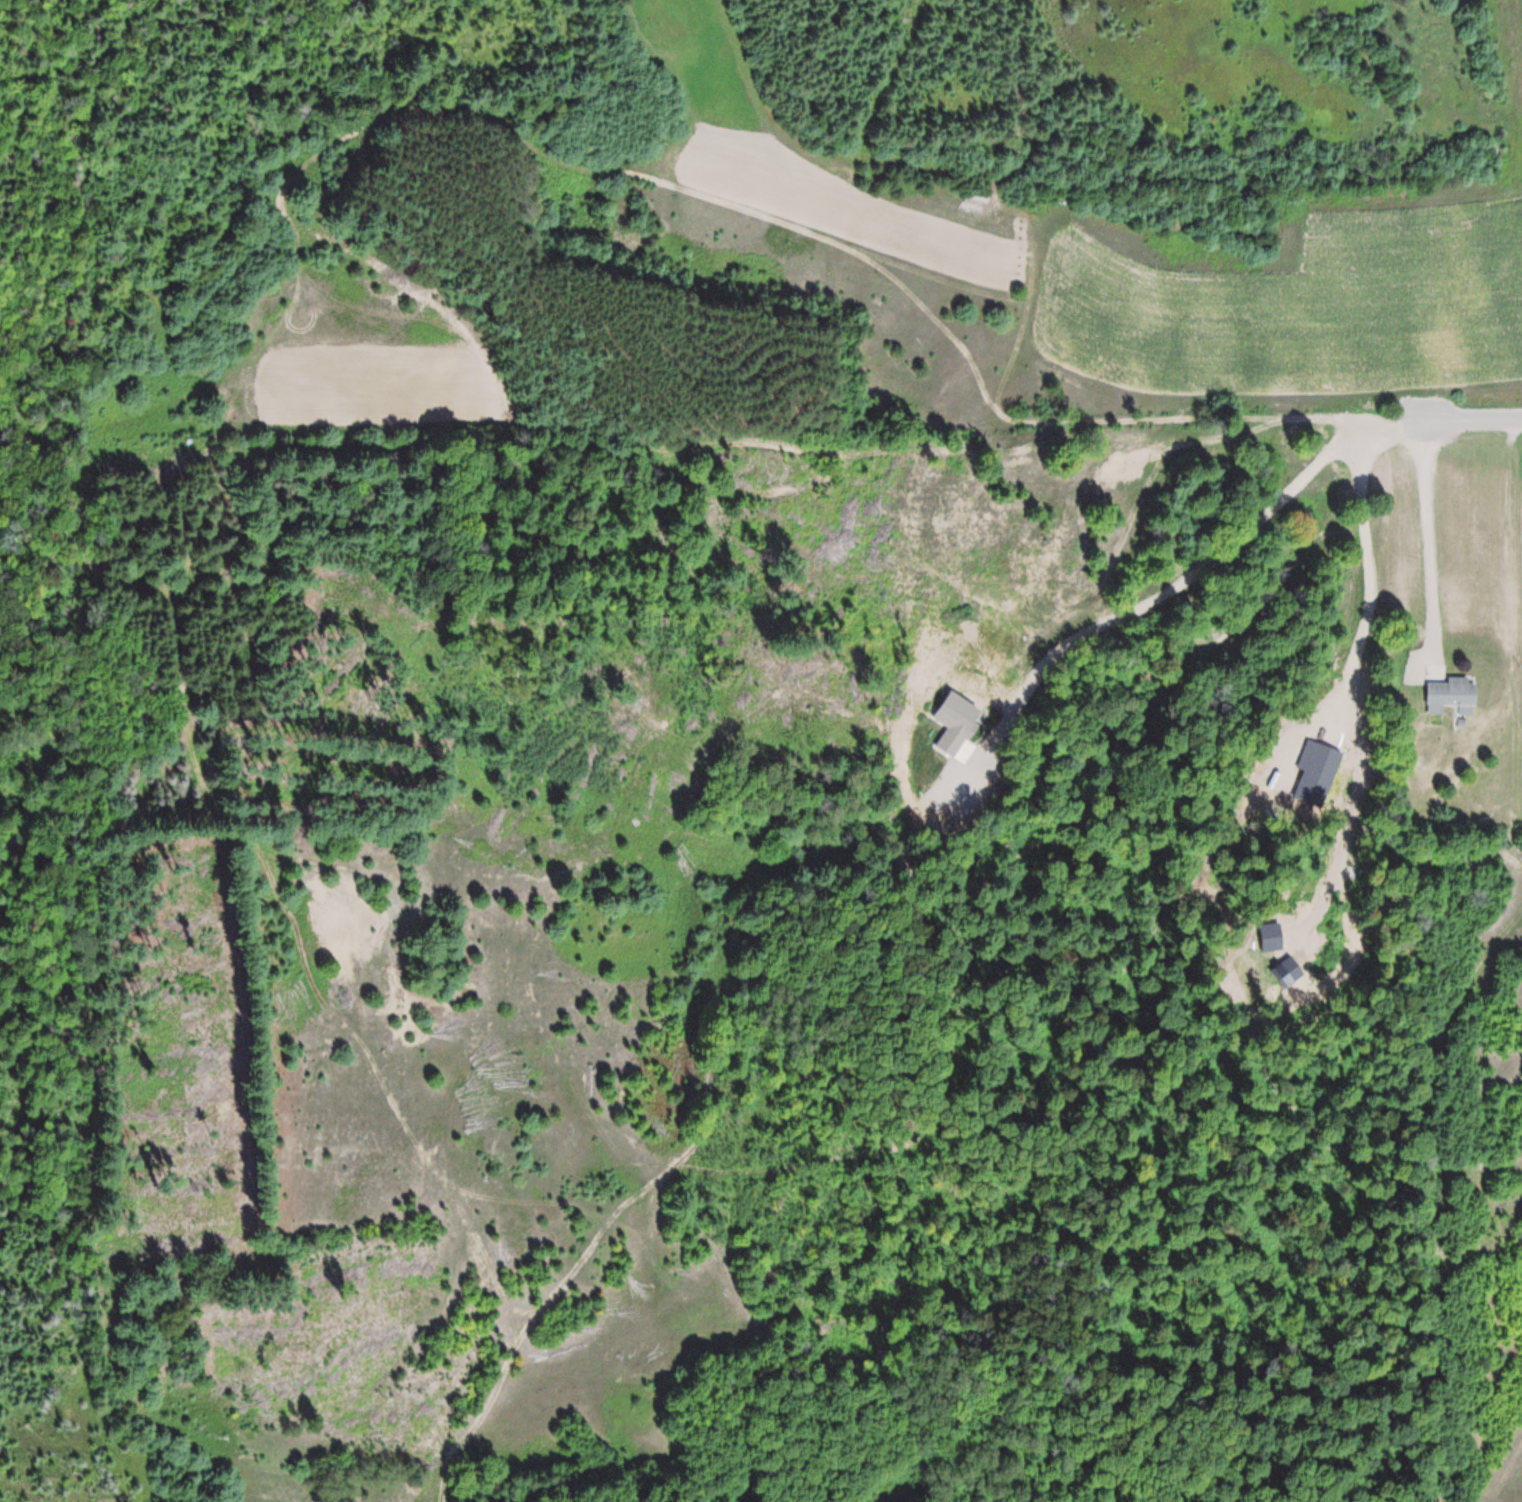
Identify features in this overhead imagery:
road: (1469, 423)
building: (1451, 694)

